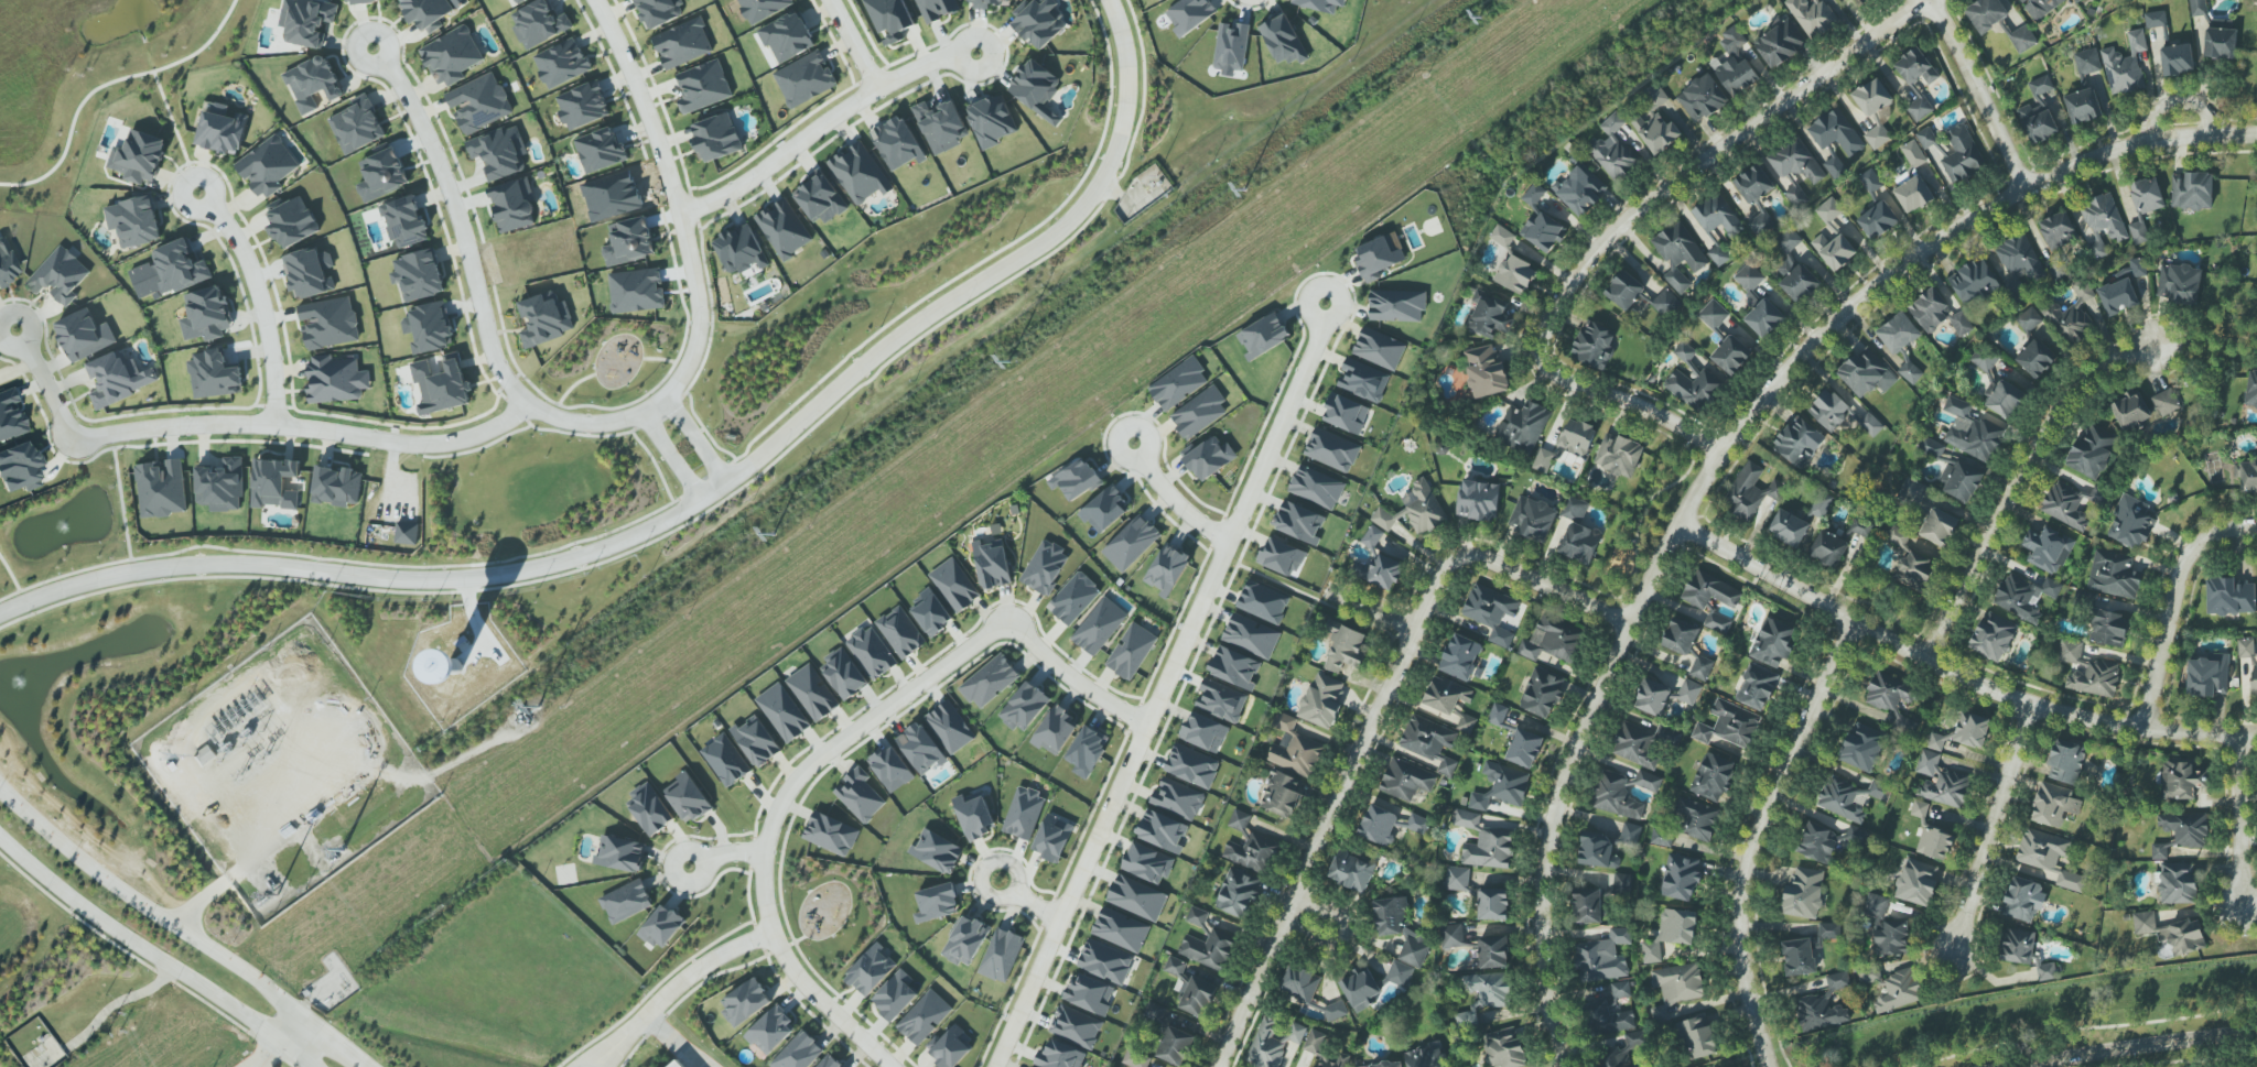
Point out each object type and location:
building: (1157, 0)
building: (360, 1)
building: (519, 1)
building: (2076, 1)
building: (1859, 2)
building: (987, 3)
building: (1320, 4)
building: (2040, 7)
building: (2197, 8)
building: (762, 9)
building: (937, 9)
building: (658, 11)
building: (426, 12)
building: (1986, 13)
building: (1189, 14)
building: (1813, 17)
building: (889, 19)
building: (2156, 19)
building: (307, 21)
building: (1038, 22)
building: (539, 23)
building: (787, 36)
building: (2023, 39)
building: (1283, 40)
building: (682, 43)
building: (1780, 43)
building: (2221, 43)
road: (852, 44)
building: (1231, 46)
building: (451, 56)
building: (2177, 58)
building: (2087, 62)
building: (561, 63)
building: (1735, 64)
building: (2125, 65)
building: (804, 78)
building: (313, 83)
road: (106, 84)
building: (1911, 84)
building: (703, 86)
building: (2041, 86)
building: (1036, 88)
road: (1978, 91)
building: (1702, 98)
building: (479, 102)
road: (2178, 104)
building: (583, 106)
building: (2083, 106)
building: (1875, 110)
building: (992, 120)
building: (2038, 122)
road: (822, 123)
building: (1656, 123)
building: (357, 126)
building: (941, 126)
building: (220, 129)
road: (174, 131)
building: (1836, 132)
building: (716, 138)
building: (1926, 138)
building: (897, 143)
building: (1612, 149)
building: (601, 150)
building: (499, 152)
building: (1913, 153)
building: (1962, 154)
building: (139, 156)
building: (1795, 161)
building: (1833, 163)
building: (267, 166)
building: (860, 173)
building: (382, 175)
building: (1870, 181)
building: (1753, 184)
building: (1579, 189)
building: (2192, 190)
building: (1913, 194)
building: (1533, 195)
building: (2147, 195)
building: (820, 199)
road: (674, 204)
building: (514, 205)
building: (1828, 210)
building: (1878, 219)
building: (133, 221)
building: (291, 221)
building: (404, 221)
road: (1624, 221)
building: (2102, 221)
building: (1760, 224)
building: (1717, 225)
building: (784, 229)
building: (2058, 230)
building: (1542, 231)
building: (2139, 232)
building: (1502, 236)
building: (629, 241)
building: (1834, 250)
building: (741, 251)
building: (1678, 254)
building: (2019, 258)
building: (7, 264)
road: (972, 266)
building: (1794, 269)
building: (169, 271)
building: (310, 273)
building: (1515, 274)
building: (418, 275)
building: (60, 276)
building: (1749, 282)
building: (1974, 282)
building: (2179, 283)
road: (475, 286)
building: (2121, 288)
building: (1624, 290)
building: (637, 291)
road: (680, 291)
road: (258, 300)
building: (1665, 303)
building: (1396, 305)
building: (1937, 313)
building: (1714, 314)
building: (206, 315)
building: (2072, 316)
building: (1490, 317)
building: (1764, 318)
building: (544, 319)
building: (2029, 319)
building: (328, 323)
building: (428, 327)
building: (1898, 333)
building: (84, 335)
building: (1263, 336)
road: (2205, 338)
building: (1595, 345)
building: (1379, 348)
building: (1731, 355)
park: (607, 358)
road: (658, 358)
building: (2037, 358)
building: (1984, 359)
building: (1486, 371)
building: (1911, 372)
building: (1866, 373)
building: (214, 375)
building: (119, 378)
building: (336, 379)
road: (515, 379)
building: (1362, 380)
road: (42, 381)
building: (1693, 382)
building: (1178, 383)
road: (573, 384)
building: (441, 386)
building: (2251, 390)
building: (2006, 399)
road: (636, 400)
building: (2166, 402)
building: (1829, 410)
building: (2130, 411)
building: (1199, 412)
building: (1346, 413)
building: (10, 416)
building: (1871, 424)
building: (1522, 426)
road: (303, 428)
building: (1970, 431)
road: (579, 434)
building: (1577, 437)
road: (694, 438)
building: (1799, 442)
building: (1931, 447)
building: (1331, 449)
building: (2092, 450)
building: (1619, 455)
road: (1718, 455)
road: (668, 456)
building: (1210, 458)
building: (1543, 460)
road: (655, 464)
building: (18, 468)
building: (2246, 475)
building: (1958, 478)
building: (1076, 479)
road: (2016, 480)
building: (274, 483)
building: (220, 486)
building: (337, 487)
building: (1316, 487)
building: (161, 488)
building: (1751, 491)
building: (1912, 492)
road: (120, 494)
road: (1171, 496)
building: (1478, 500)
road: (690, 504)
building: (1821, 505)
building: (2064, 505)
building: (1414, 509)
building: (1575, 509)
building: (1104, 510)
building: (1532, 518)
park: (1642, 521)
building: (1299, 522)
building: (2130, 522)
building: (1860, 526)
building: (1789, 527)
building: (1939, 527)
building: (407, 533)
building: (1372, 536)
building: (1131, 543)
building: (1579, 543)
building: (1828, 548)
building: (2048, 549)
building: (1282, 556)
road: (348, 560)
building: (992, 564)
building: (1045, 567)
building: (1167, 569)
building: (1914, 570)
building: (2114, 574)
road: (9, 575)
road: (1274, 578)
building: (954, 585)
building: (1710, 591)
building: (2024, 596)
building: (2231, 596)
building: (1073, 598)
park: (1888, 598)
building: (1263, 601)
road: (2170, 603)
road: (1370, 608)
building: (1491, 611)
building: (930, 612)
building: (1718, 623)
building: (1099, 625)
building: (2109, 628)
building: (900, 632)
building: (1251, 635)
building: (1681, 636)
building: (1994, 636)
building: (1552, 641)
building: (1773, 641)
building: (1345, 647)
building: (2245, 647)
building: (1131, 651)
building: (872, 652)
building: (1460, 657)
building: (1234, 667)
building: (1702, 667)
building: (2088, 671)
building: (843, 674)
road: (1953, 674)
building: (2207, 675)
building: (2254, 678)
road: (1072, 679)
building: (990, 682)
road: (1162, 685)
building: (1757, 687)
building: (1688, 692)
building: (812, 693)
building: (1542, 693)
building: (1446, 695)
building: (1652, 697)
building: (1891, 697)
building: (1220, 700)
building: (1322, 700)
building: (1025, 707)
building: (784, 712)
building: (1498, 715)
building: (1466, 722)
road: (1371, 723)
building: (1729, 725)
building: (950, 727)
building: (1055, 730)
building: (1205, 732)
building: (1964, 732)
building: (756, 741)
building: (1430, 742)
road: (835, 744)
building: (1634, 745)
building: (1862, 747)
building: (1524, 748)
building: (920, 749)
building: (1295, 749)
building: (1087, 751)
building: (204, 756)
power tower: (264, 756)
building: (725, 760)
building: (2065, 761)
building: (1191, 765)
building: (890, 769)
power substation: (283, 770)
power tower: (244, 772)
building: (1713, 776)
building: (1405, 780)
building: (2182, 780)
building: (1941, 782)
building: (1501, 786)
building: (1623, 793)
building: (1282, 794)
building: (860, 795)
building: (687, 797)
building: (1849, 797)
building: (1177, 798)
building: (2053, 805)
building: (649, 809)
building: (1024, 813)
building: (974, 816)
building: (1694, 819)
road: (2239, 819)
building: (1389, 825)
road: (1993, 826)
building: (2185, 828)
building: (1162, 830)
building: (831, 834)
building: (1631, 834)
building: (1052, 837)
road: (1756, 837)
building: (1662, 838)
building: (1826, 841)
building: (1486, 842)
building: (1250, 846)
building: (1597, 850)
road: (726, 851)
building: (937, 851)
building: (2159, 851)
building: (620, 853)
building: (2049, 857)
building: (1147, 863)
building: (1351, 870)
building: (1681, 878)
building: (1457, 879)
building: (1622, 882)
building: (1918, 882)
building: (2178, 883)
building: (1804, 892)
building: (1238, 893)
building: (1136, 897)
building: (2021, 899)
road: (196, 901)
building: (626, 901)
road: (1026, 901)
building: (937, 903)
building: (1493, 904)
building: (1587, 906)
building: (1197, 916)
building: (661, 926)
building: (1887, 927)
building: (1121, 929)
building: (1401, 929)
road: (181, 930)
building: (1829, 930)
building: (2172, 932)
building: (1671, 933)
road: (1342, 936)
building: (1451, 936)
building: (965, 940)
building: (1209, 948)
building: (1493, 951)
building: (2024, 951)
building: (1001, 955)
road: (154, 956)
building: (1603, 957)
building: (1799, 957)
building: (1104, 961)
building: (1175, 967)
building: (871, 970)
building: (1400, 975)
building: (1872, 978)
road: (678, 981)
building: (1838, 981)
building: (1299, 983)
building: (1360, 989)
building: (1899, 991)
building: (1089, 993)
building: (1484, 994)
building: (896, 995)
building: (1198, 995)
building: (745, 1002)
road: (825, 1004)
building: (1600, 1008)
building: (1335, 1011)
building: (1819, 1012)
road: (101, 1013)
building: (925, 1016)
road: (287, 1024)
building: (1076, 1026)
building: (771, 1031)
building: (1696, 1036)
road: (676, 1038)
building: (1272, 1043)
building: (1175, 1044)
building: (950, 1047)
building: (1504, 1048)
building: (1324, 1050)
building: (798, 1052)
building: (1626, 1052)
road: (2140, 1052)
road: (263, 1053)
building: (1059, 1056)
building: (1425, 1057)
building: (1135, 1059)
road: (591, 1061)
road: (600, 1061)
building: (829, 1061)
building: (671, 1063)
building: (1382, 1065)
park: (1579, 1066)

